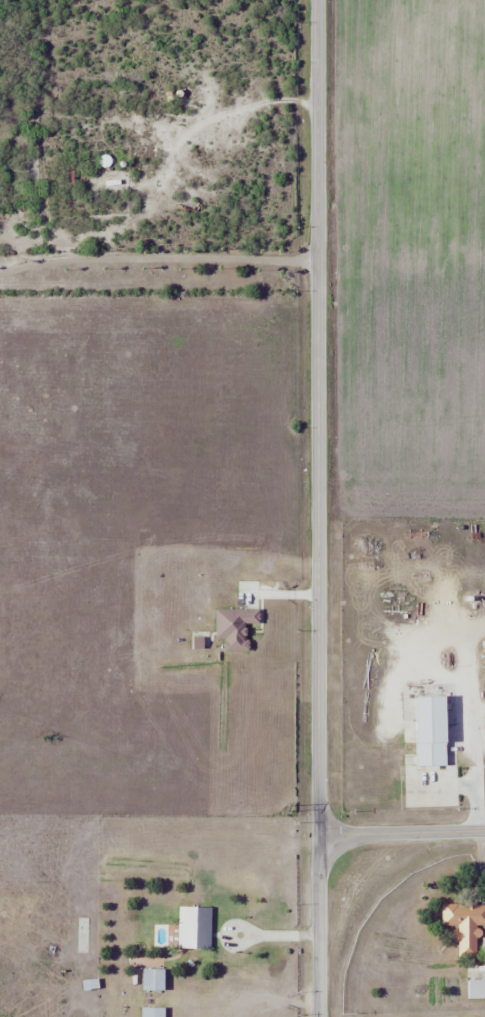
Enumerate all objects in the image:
road: (158, 260)
road: (318, 417)
building: (236, 626)
power tower: (288, 806)
road: (401, 833)
road: (318, 926)
building: (465, 926)
building: (195, 927)
building: (154, 979)
building: (476, 989)
building: (153, 1011)

